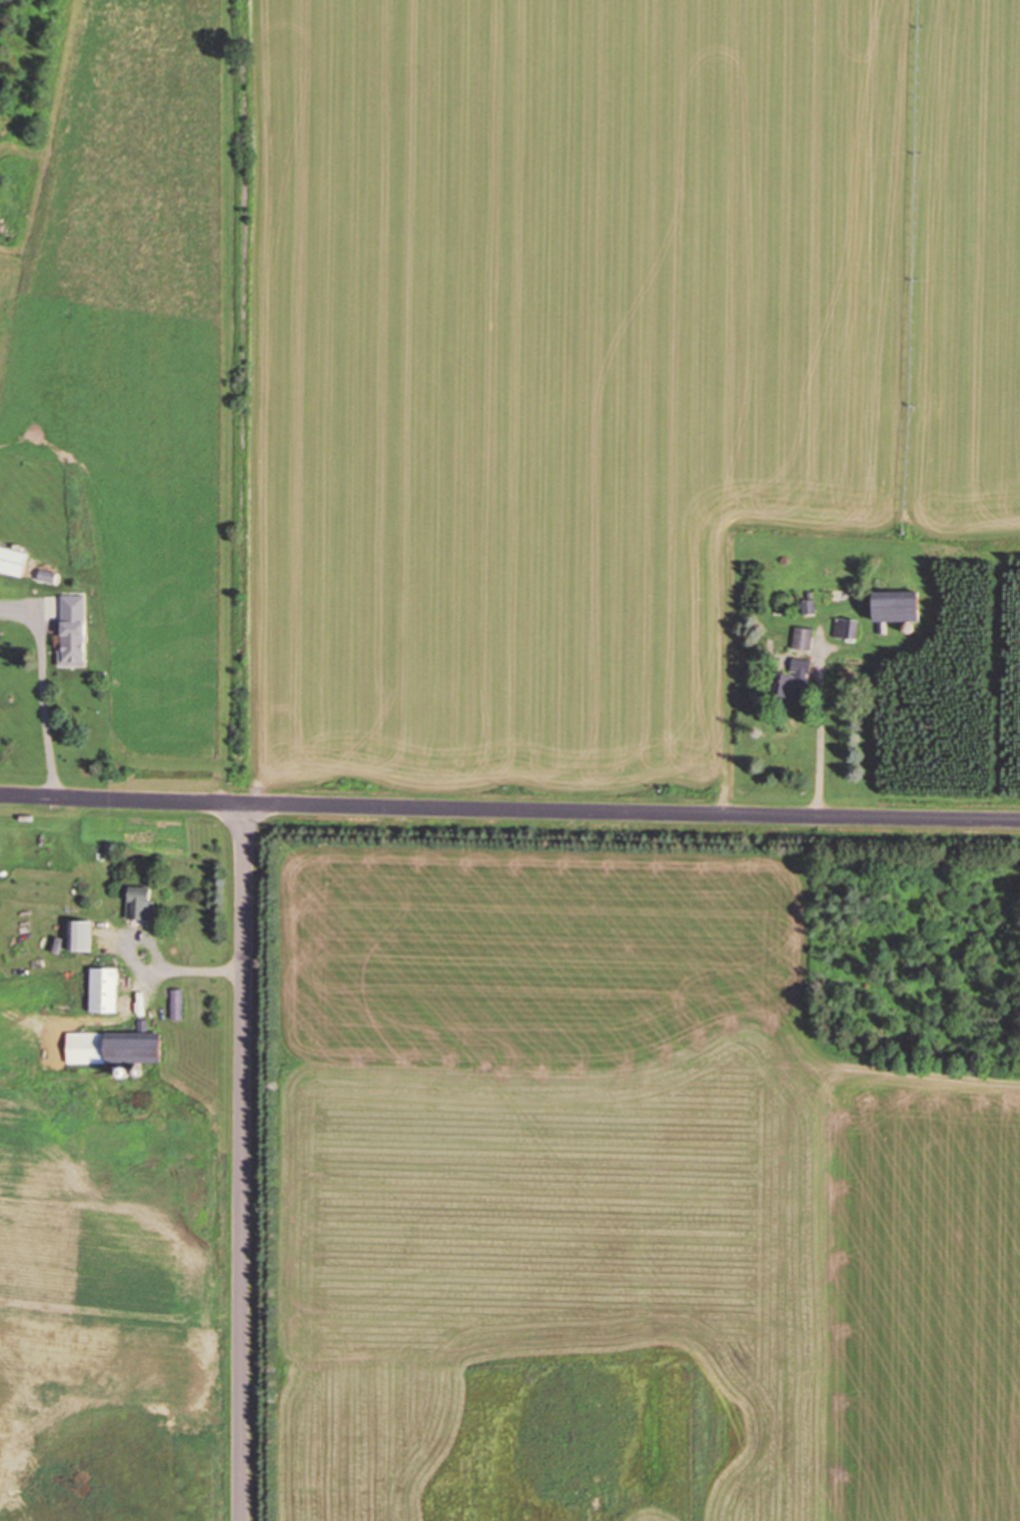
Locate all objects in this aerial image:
building: (12, 561)
building: (47, 576)
building: (890, 607)
building: (845, 629)
building: (802, 639)
building: (70, 647)
building: (791, 680)
road: (509, 809)
building: (138, 903)
building: (110, 948)
building: (101, 990)
building: (175, 1004)
building: (113, 1046)
road: (243, 1162)

